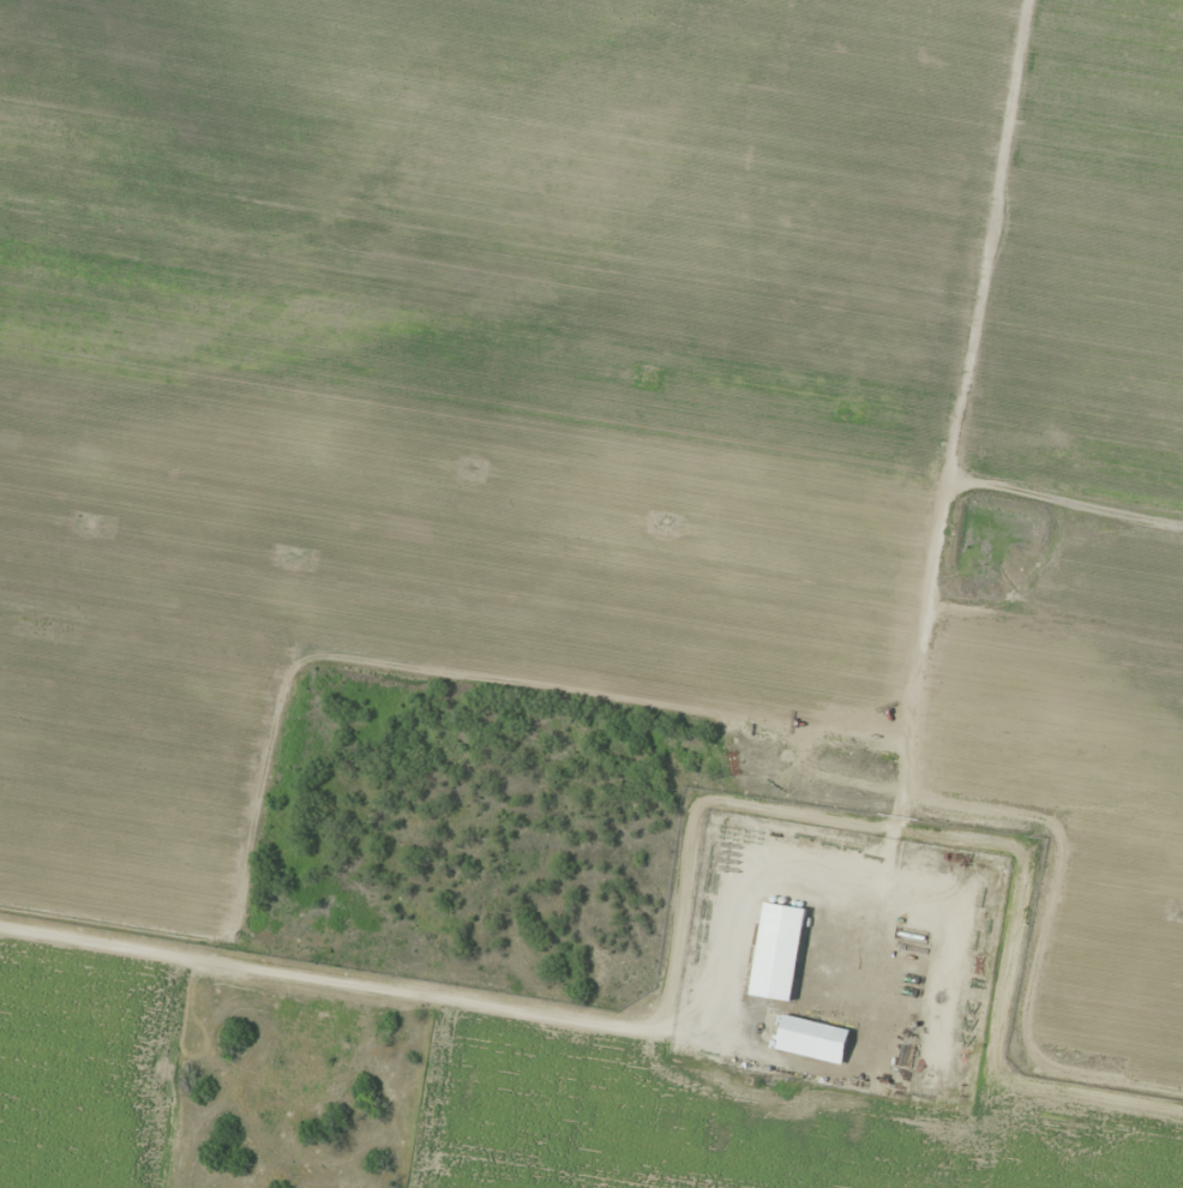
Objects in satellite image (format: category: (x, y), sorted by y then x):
road: (951, 415)
building: (777, 950)
road: (998, 997)
road: (533, 1009)
building: (812, 1039)

